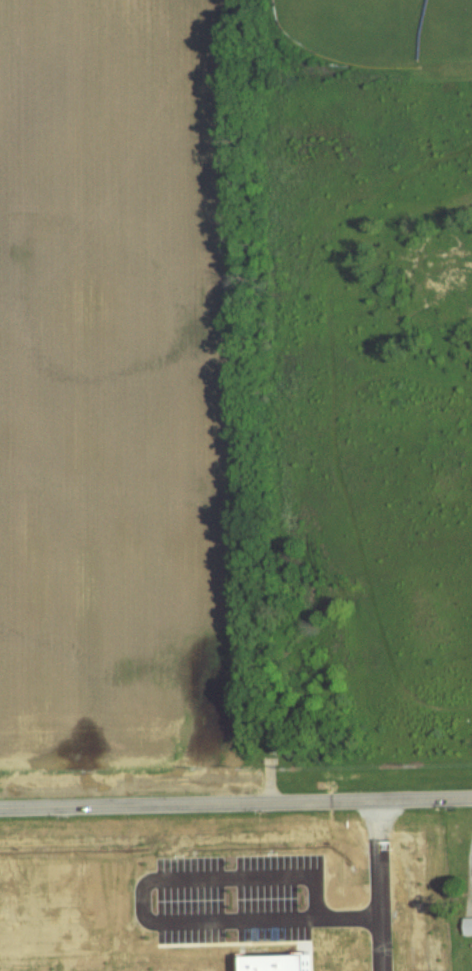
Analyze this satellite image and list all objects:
park: (354, 29)
park: (445, 33)
road: (236, 799)
road: (380, 883)
road: (141, 911)
building: (469, 927)
building: (280, 963)

